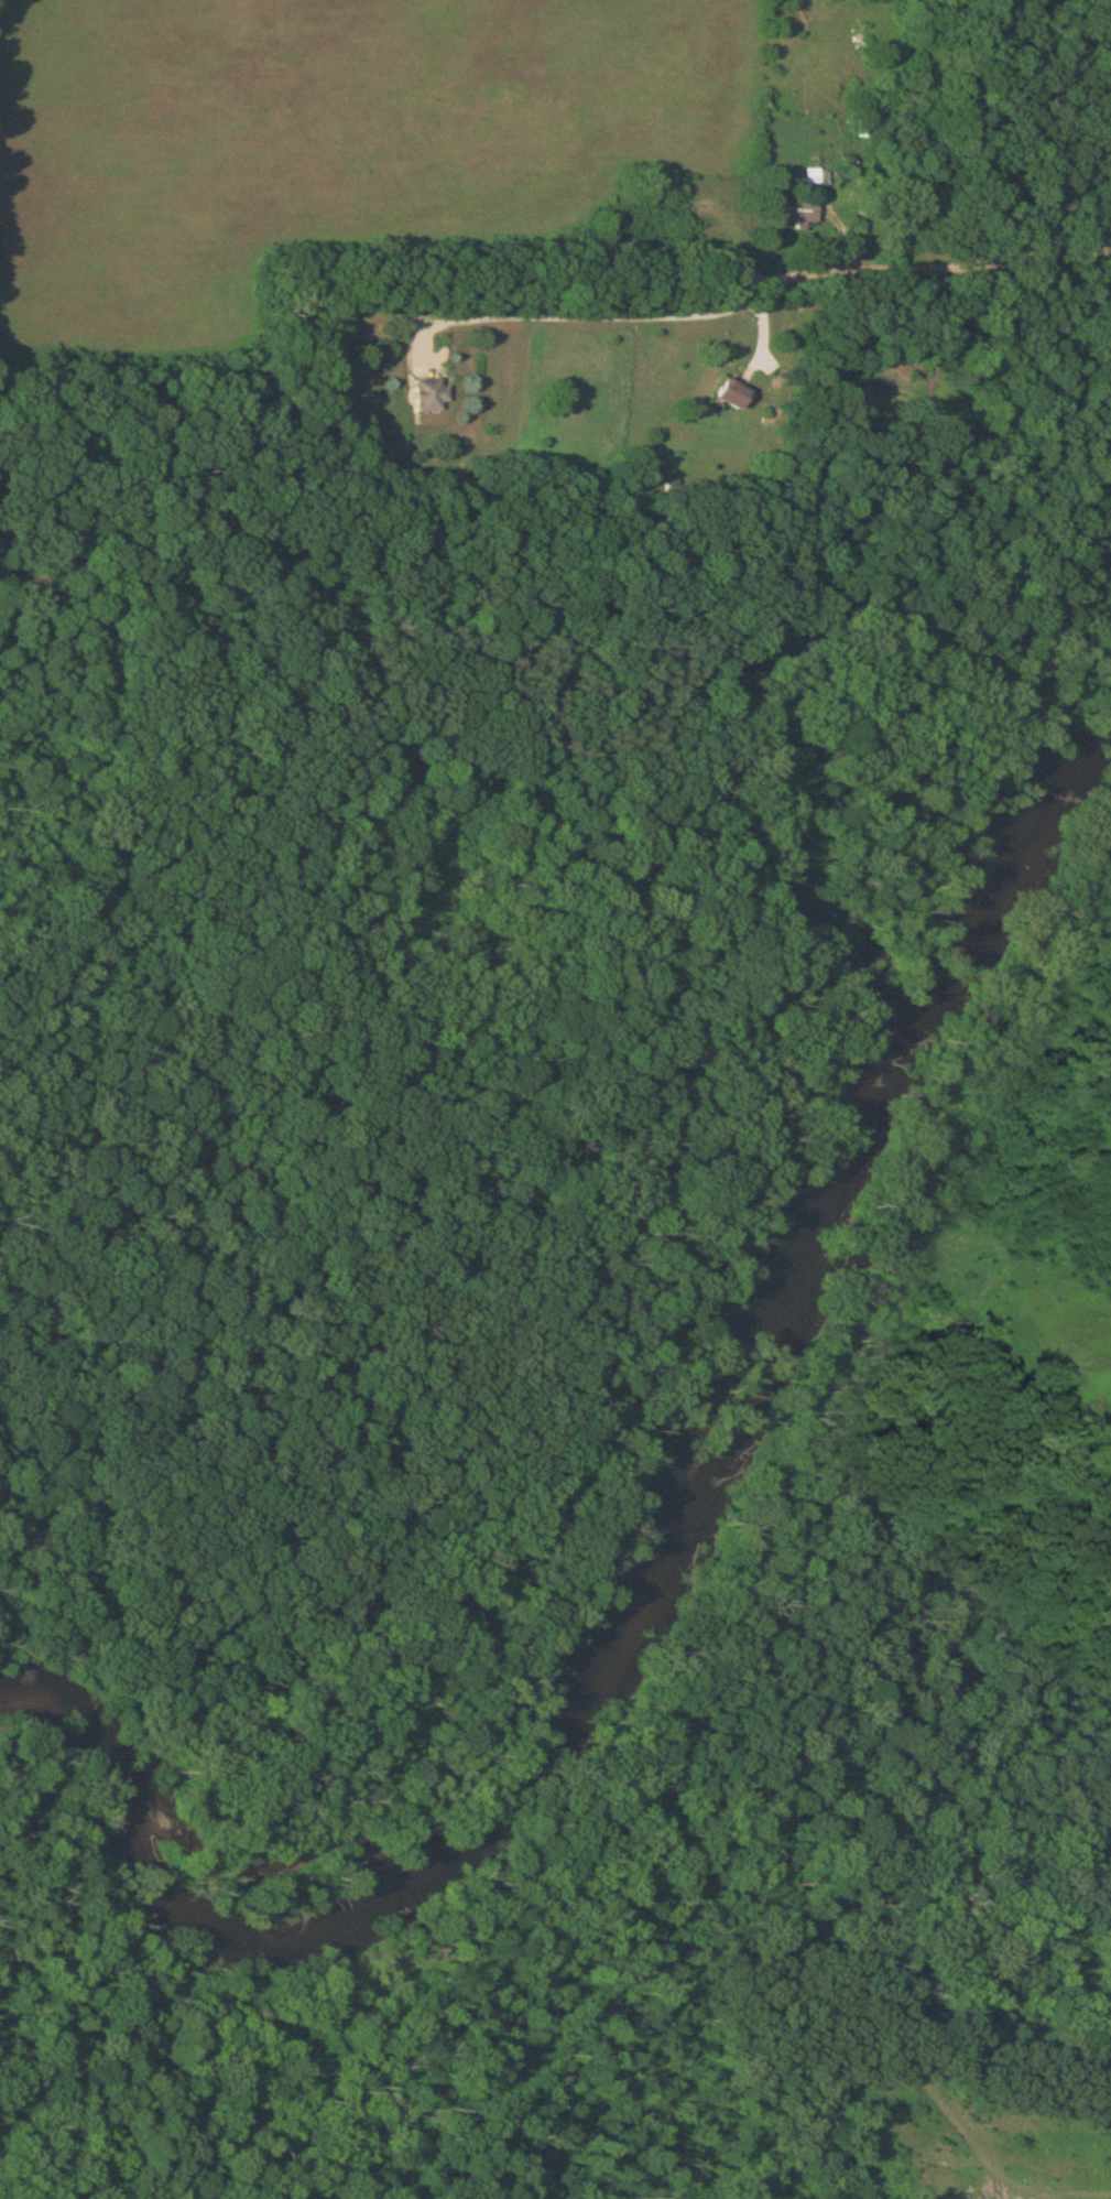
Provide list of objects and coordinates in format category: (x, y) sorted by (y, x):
road: (921, 254)
road: (609, 315)
road: (900, 316)
road: (766, 322)
river: (660, 1570)

